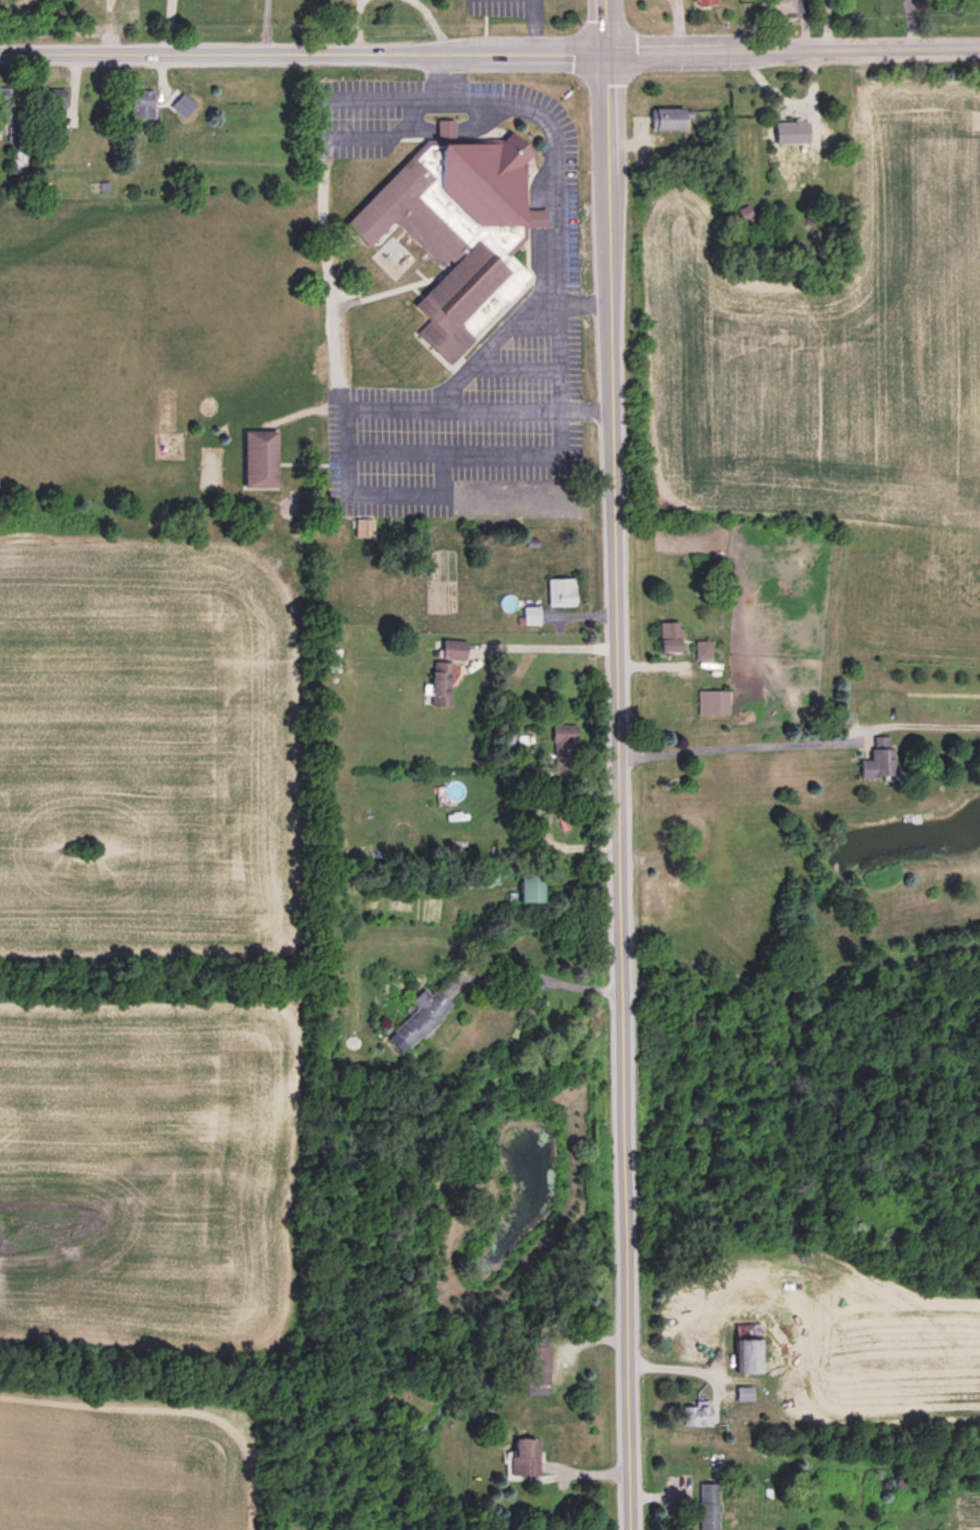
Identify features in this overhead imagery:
building: (705, 2)
building: (776, 6)
road: (910, 24)
road: (432, 25)
road: (678, 25)
road: (802, 25)
road: (825, 25)
road: (354, 26)
road: (530, 26)
road: (164, 27)
road: (490, 53)
road: (810, 85)
building: (55, 102)
building: (143, 106)
building: (183, 107)
building: (5, 108)
road: (318, 112)
building: (669, 120)
building: (797, 133)
building: (15, 135)
road: (629, 146)
road: (552, 158)
building: (20, 161)
building: (744, 212)
building: (459, 232)
road: (491, 346)
road: (563, 381)
building: (261, 460)
road: (352, 495)
building: (523, 614)
building: (666, 636)
road: (552, 647)
building: (454, 649)
building: (701, 649)
building: (334, 660)
building: (441, 684)
building: (710, 701)
road: (734, 747)
building: (875, 759)
road: (618, 765)
road: (514, 966)
building: (420, 1019)
building: (744, 1355)
building: (742, 1393)
building: (694, 1415)
building: (706, 1506)

